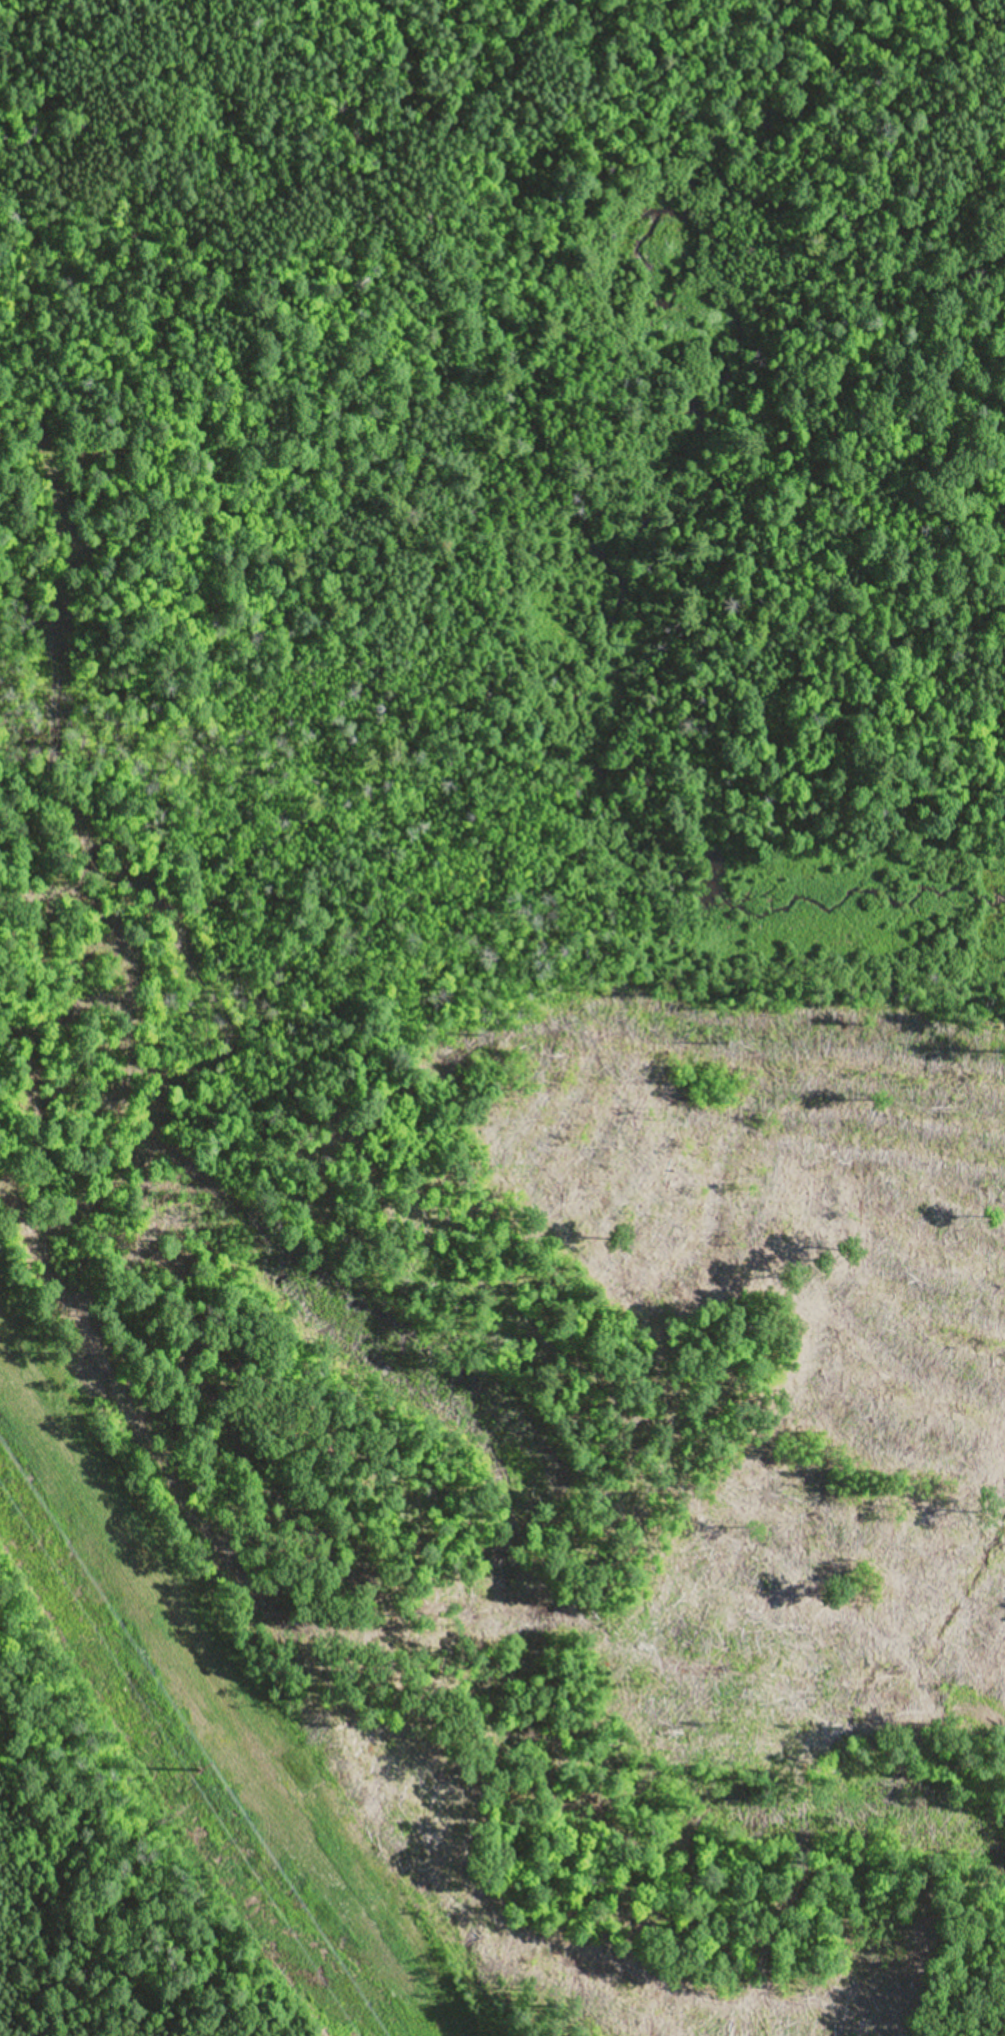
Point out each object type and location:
power tower: (198, 1767)

